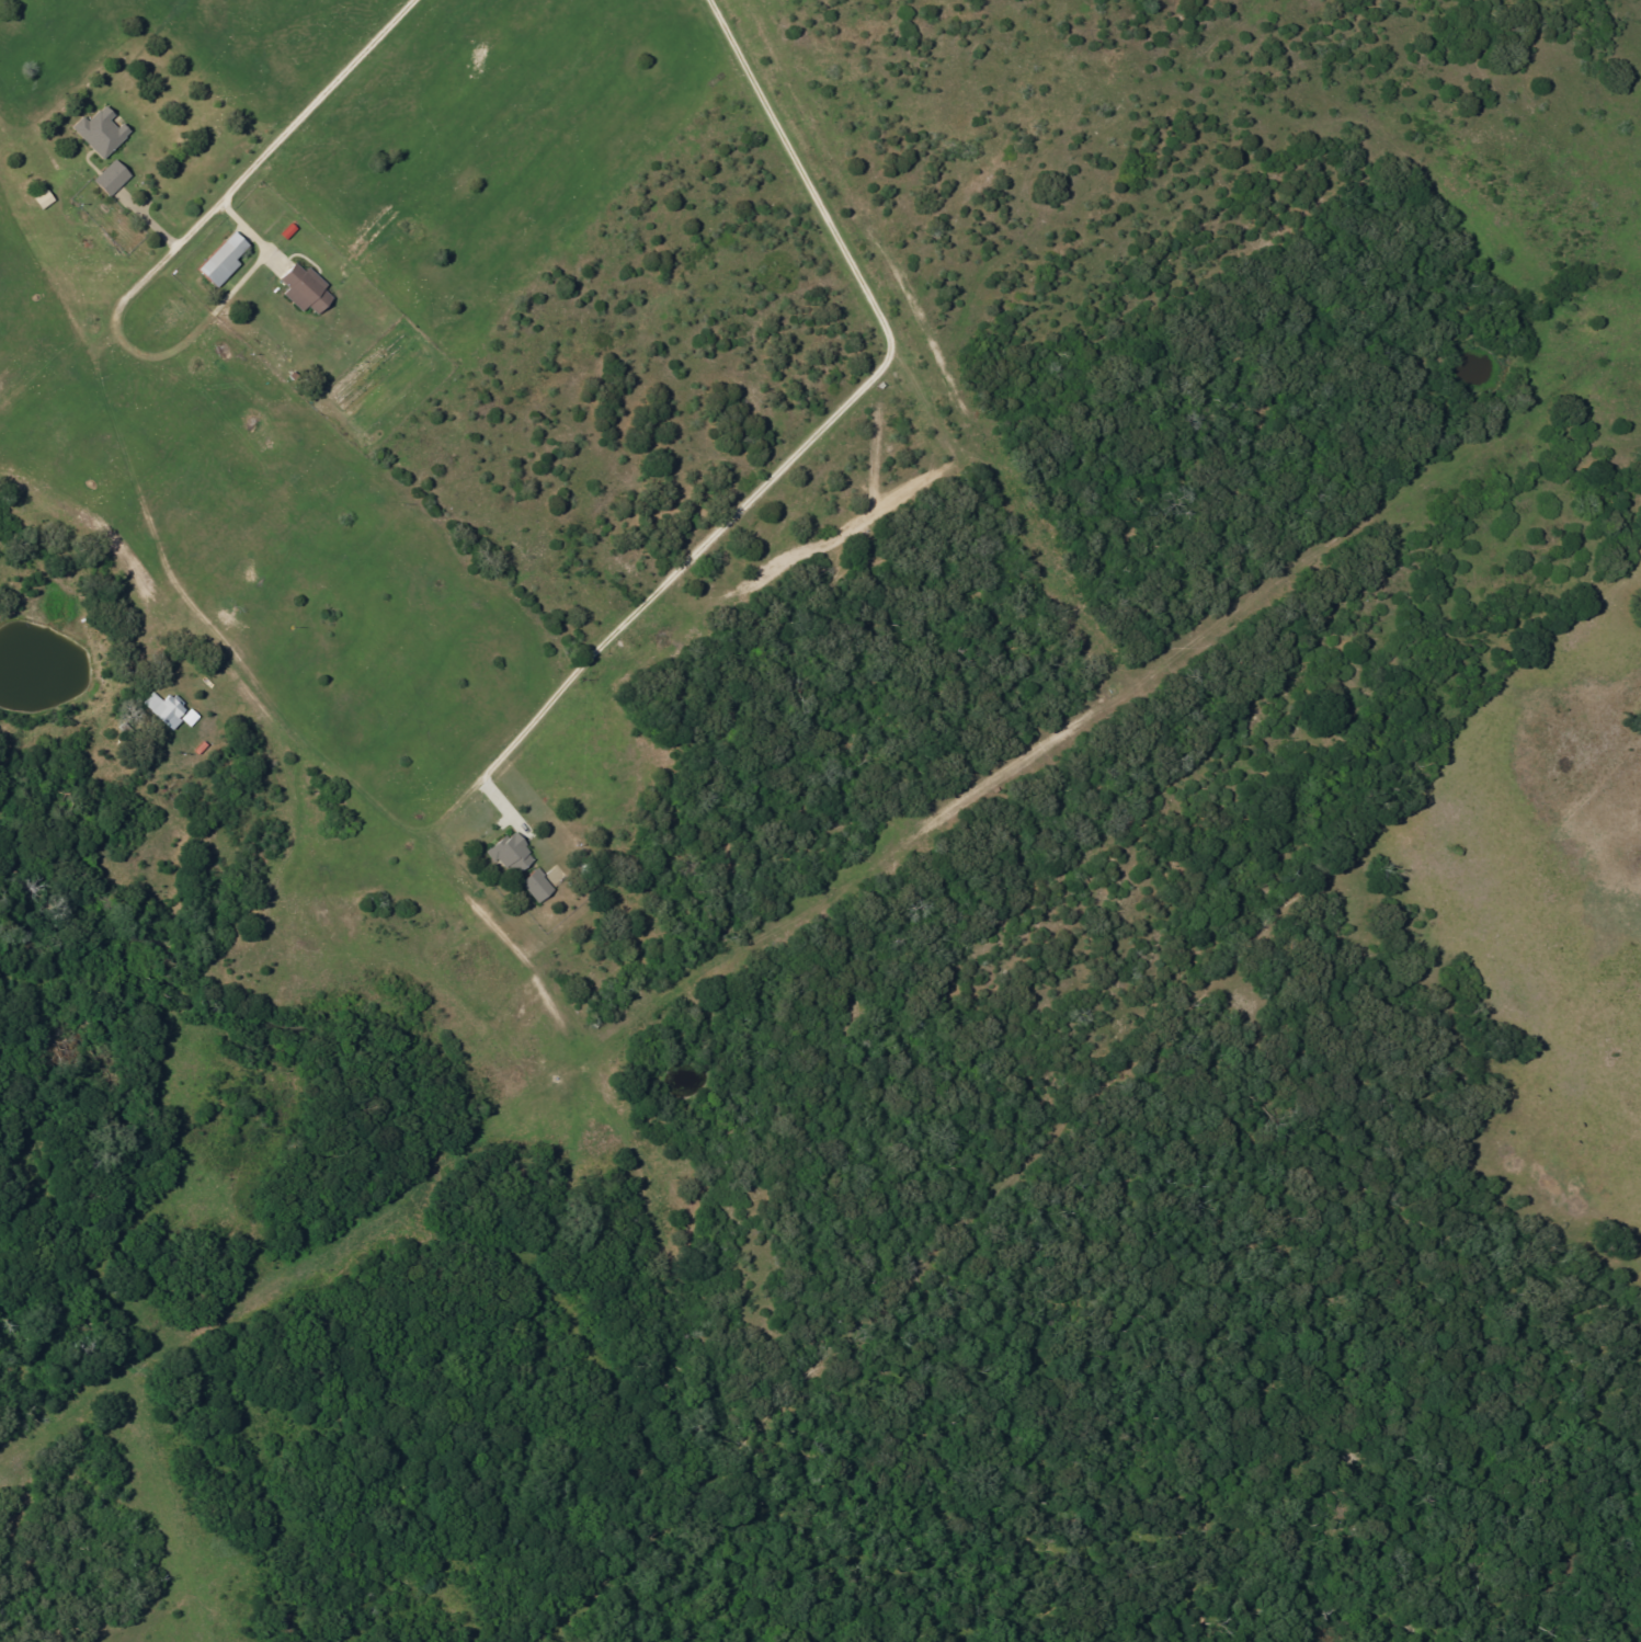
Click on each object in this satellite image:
road: (750, 76)
building: (102, 133)
road: (274, 146)
building: (113, 178)
road: (251, 233)
building: (225, 259)
building: (307, 289)

